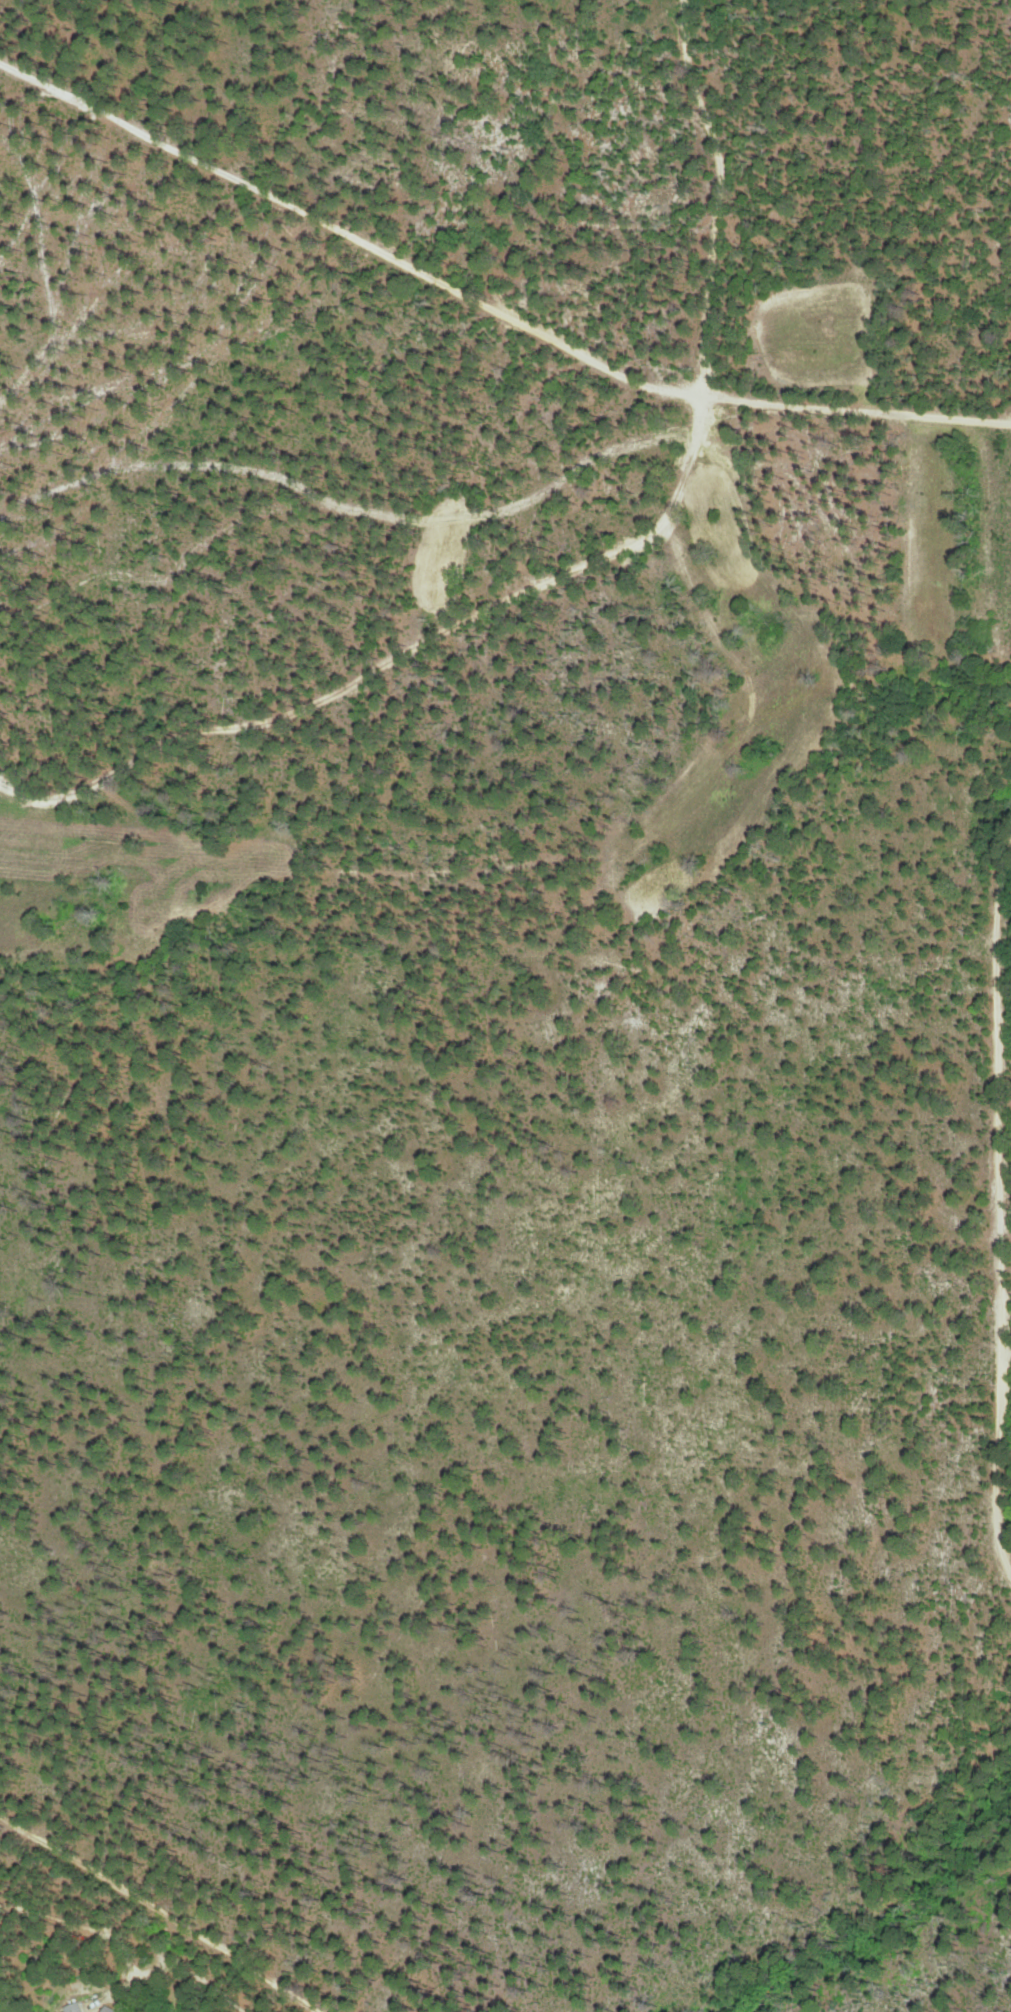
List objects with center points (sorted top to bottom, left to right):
building: (74, 2007)
building: (110, 2009)

